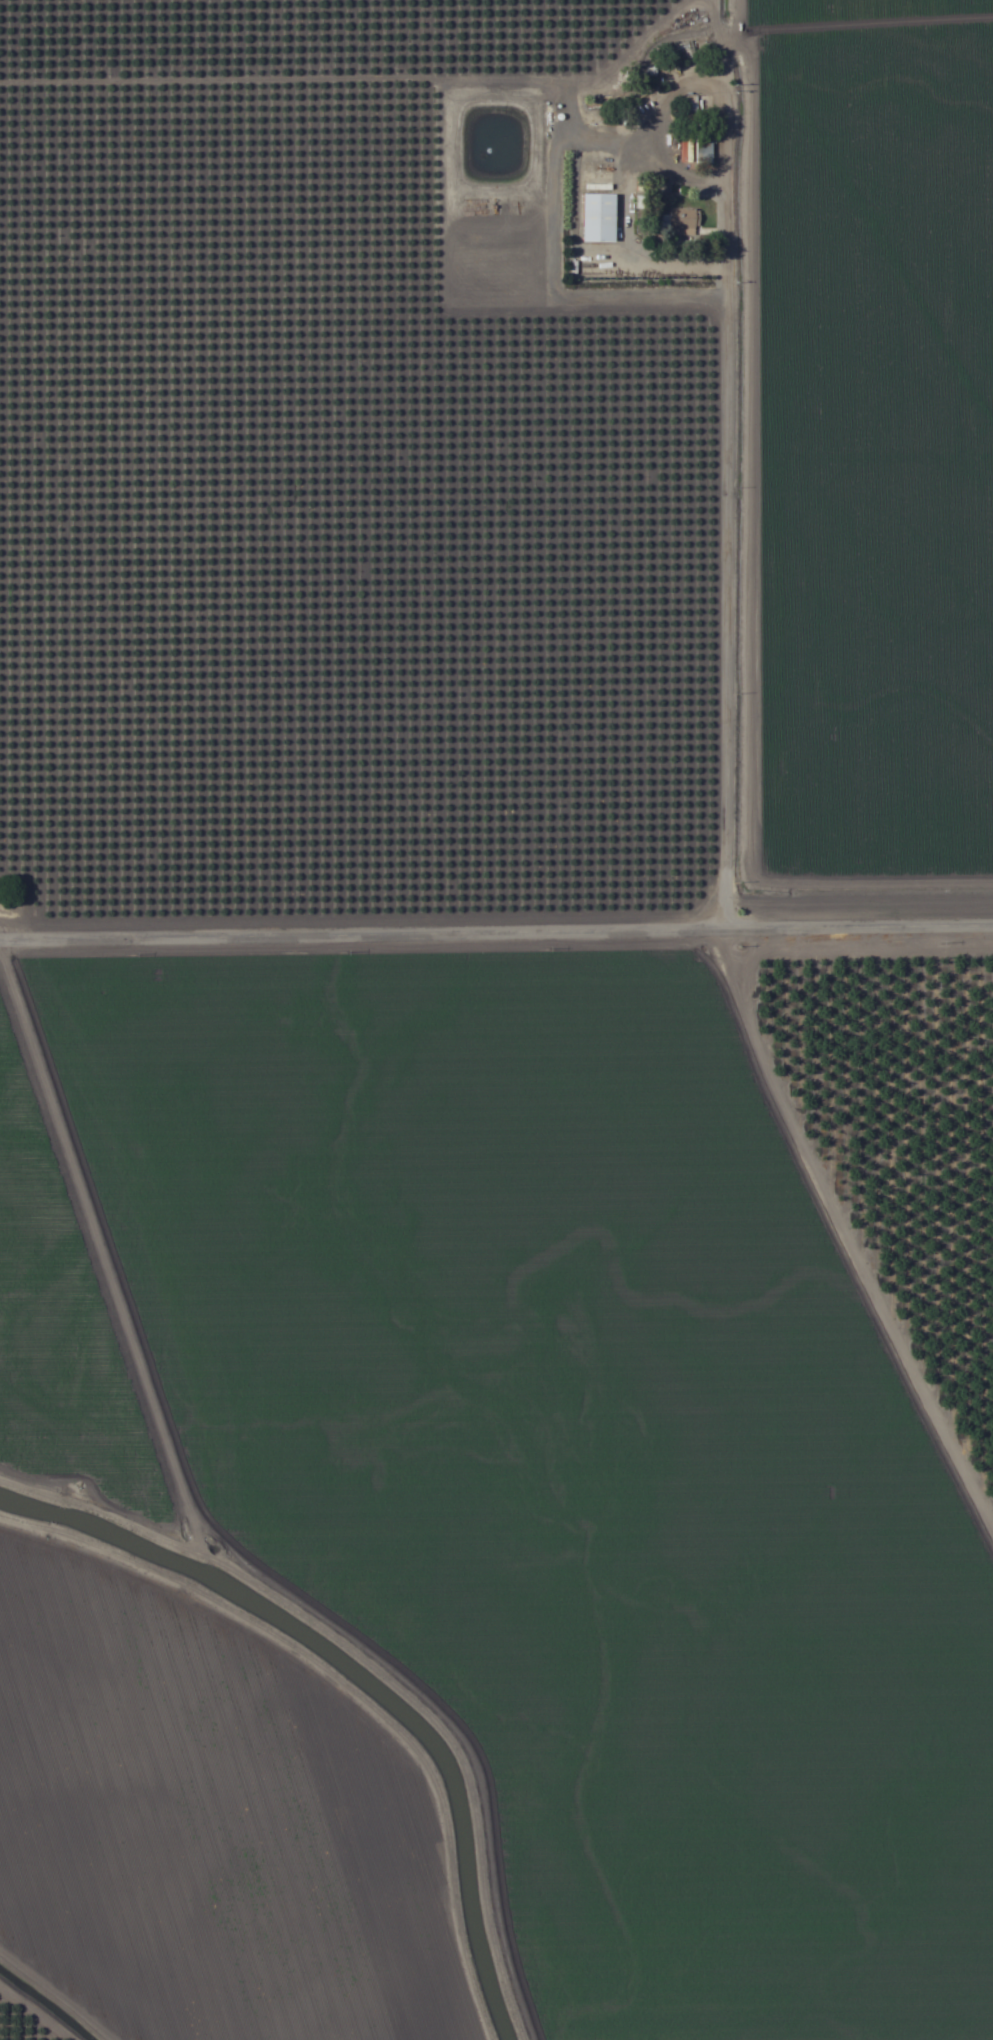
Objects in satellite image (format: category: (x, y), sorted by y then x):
building: (690, 106)
building: (703, 151)
building: (644, 215)
building: (600, 218)
building: (684, 218)
road: (843, 554)
road: (845, 892)
road: (496, 913)
crop: (496, 1020)

